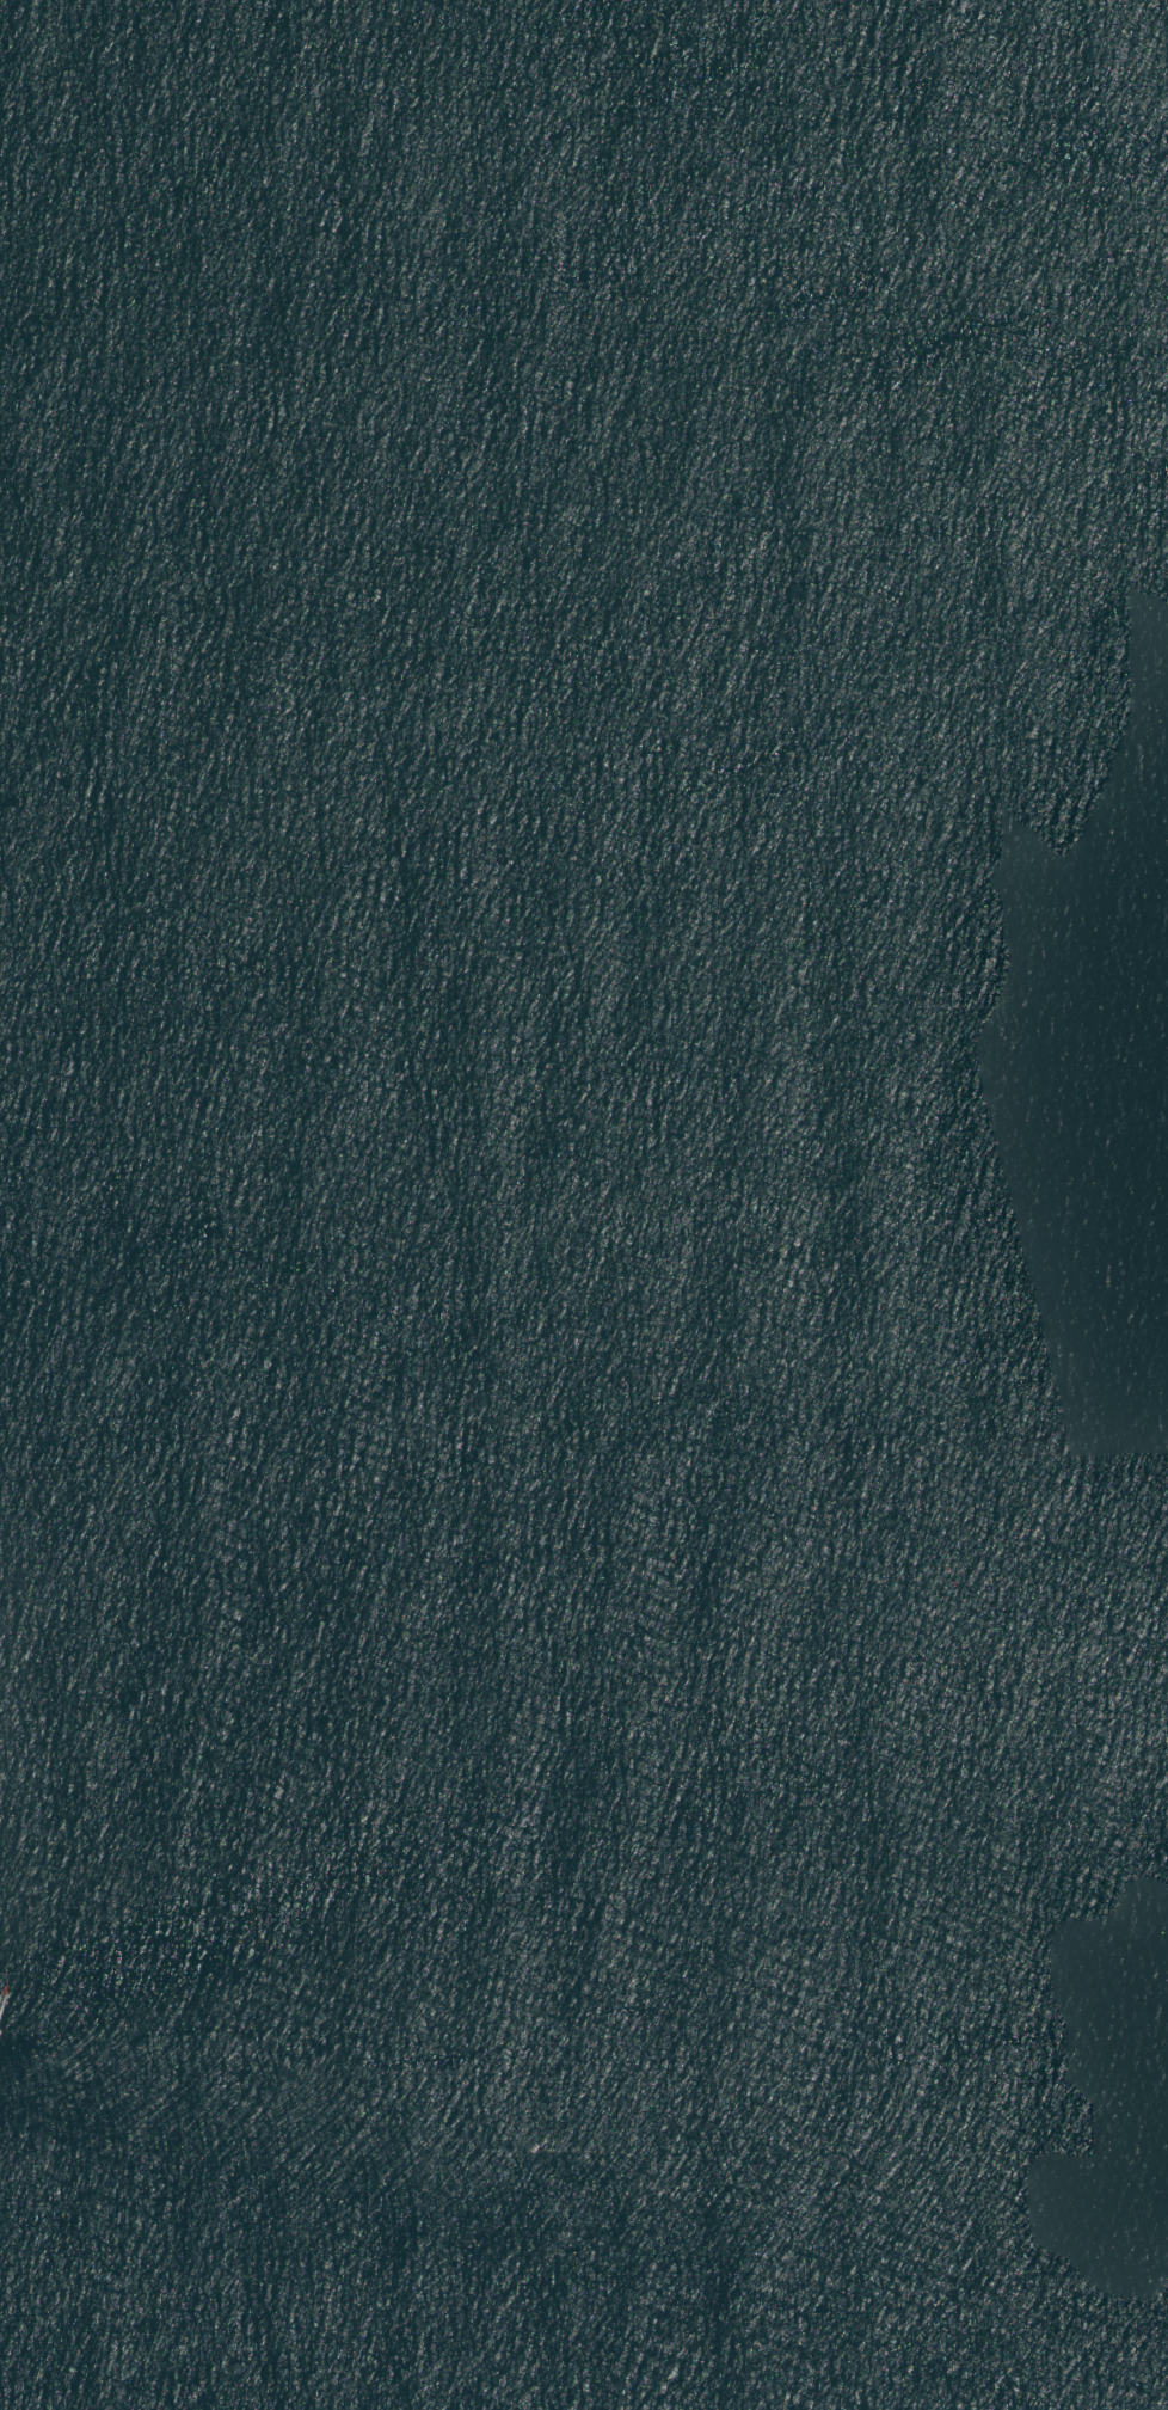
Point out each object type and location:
building: (20, 2011)

